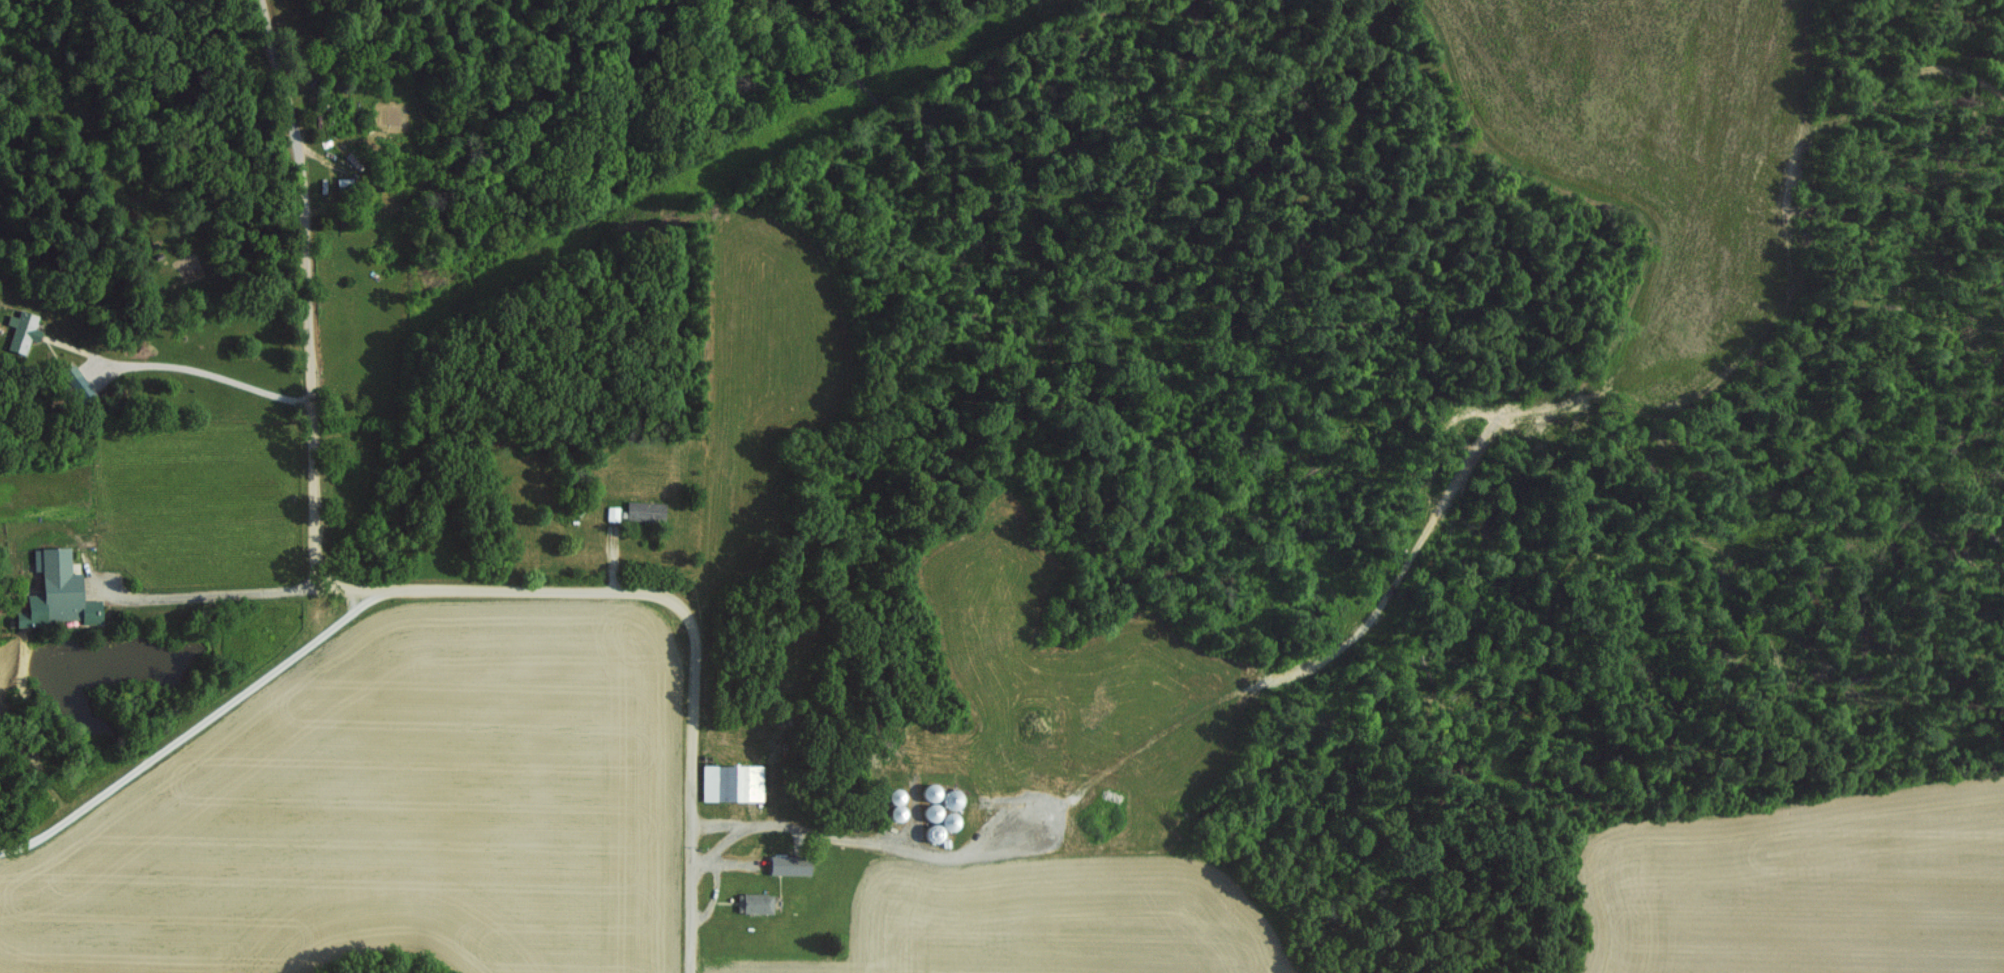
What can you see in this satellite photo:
road: (302, 292)
building: (21, 329)
road: (197, 369)
building: (76, 383)
building: (645, 509)
road: (215, 593)
road: (678, 616)
road: (197, 730)
building: (731, 782)
building: (895, 798)
building: (950, 798)
building: (935, 814)
road: (722, 823)
road: (862, 841)
building: (788, 864)
road: (714, 889)
building: (754, 902)

